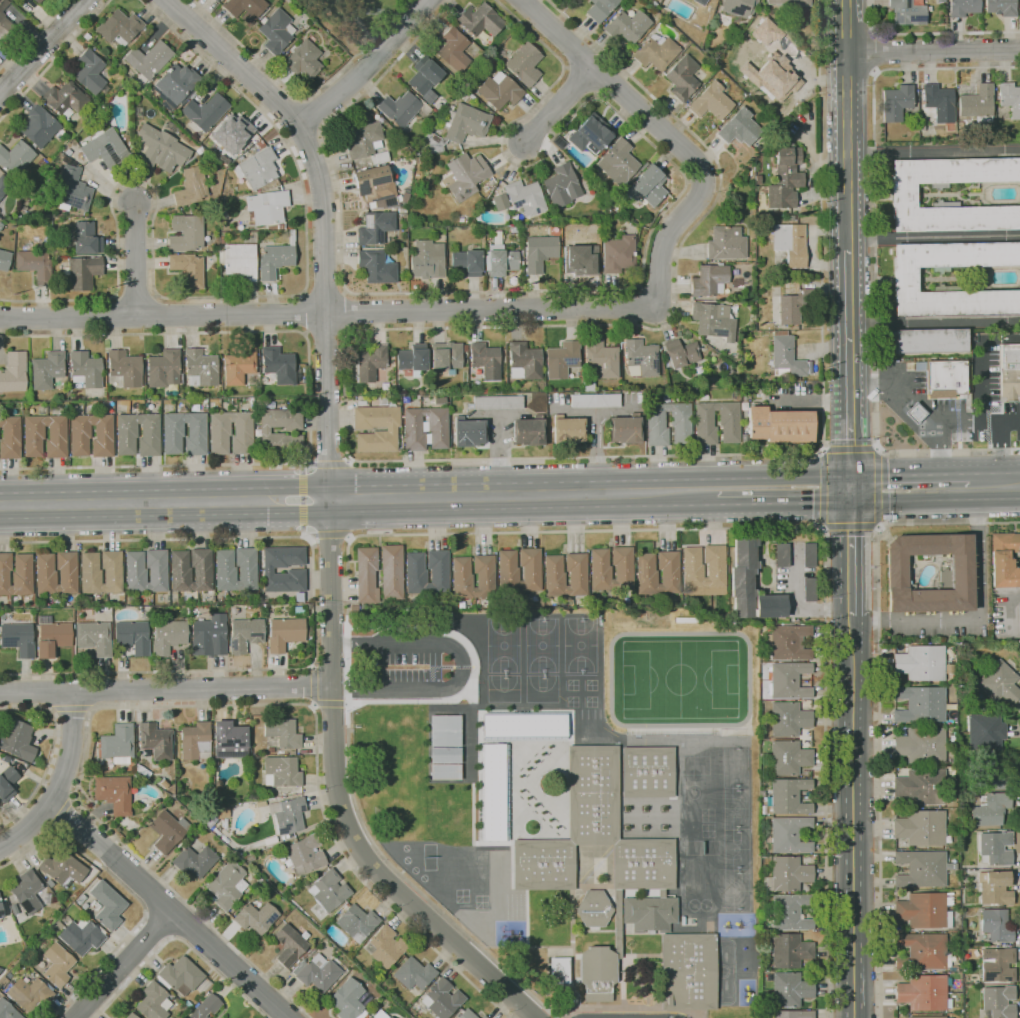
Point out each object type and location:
building: (214, 0)
building: (215, 0)
building: (588, 0)
building: (37, 1)
building: (700, 2)
building: (790, 2)
building: (653, 4)
building: (738, 7)
building: (963, 7)
building: (1000, 7)
building: (244, 9)
building: (600, 9)
building: (906, 12)
park: (352, 20)
building: (479, 20)
building: (6, 25)
building: (627, 26)
building: (119, 29)
building: (276, 31)
building: (765, 31)
road: (31, 34)
road: (931, 34)
building: (86, 36)
road: (42, 46)
building: (453, 49)
building: (656, 52)
road: (878, 53)
road: (933, 53)
building: (148, 59)
building: (302, 59)
road: (55, 60)
building: (524, 64)
road: (367, 67)
building: (89, 72)
building: (481, 74)
building: (424, 76)
building: (682, 77)
building: (773, 77)
building: (468, 85)
building: (175, 86)
road: (617, 87)
building: (499, 91)
building: (465, 94)
road: (302, 97)
building: (65, 98)
building: (1009, 98)
building: (711, 102)
building: (896, 103)
building: (938, 103)
building: (977, 104)
road: (559, 105)
building: (94, 106)
building: (451, 107)
building: (399, 109)
road: (316, 111)
building: (204, 112)
road: (288, 112)
road: (847, 124)
building: (40, 127)
building: (433, 127)
building: (457, 128)
building: (739, 128)
building: (232, 133)
building: (590, 135)
road: (304, 137)
building: (366, 143)
building: (259, 145)
building: (105, 148)
building: (161, 148)
road: (934, 151)
building: (67, 152)
building: (15, 158)
building: (65, 159)
building: (618, 162)
building: (257, 168)
building: (465, 176)
building: (786, 177)
building: (757, 180)
building: (374, 183)
building: (4, 186)
building: (562, 186)
building: (647, 186)
building: (191, 187)
building: (71, 190)
building: (731, 195)
building: (903, 195)
building: (524, 197)
building: (500, 202)
building: (266, 208)
road: (322, 213)
building: (280, 227)
building: (375, 228)
building: (514, 229)
building: (594, 229)
building: (185, 233)
building: (291, 237)
road: (934, 237)
building: (86, 239)
building: (221, 239)
building: (726, 243)
building: (790, 243)
building: (398, 245)
building: (539, 252)
building: (618, 254)
building: (500, 258)
road: (135, 259)
building: (4, 260)
building: (427, 260)
building: (240, 261)
building: (274, 261)
road: (876, 261)
building: (468, 262)
building: (34, 265)
building: (376, 267)
building: (188, 270)
building: (83, 272)
building: (223, 279)
building: (904, 279)
building: (709, 281)
road: (609, 290)
road: (325, 291)
road: (219, 297)
building: (793, 307)
road: (395, 311)
road: (305, 313)
road: (934, 318)
building: (713, 321)
road: (326, 335)
road: (1000, 339)
building: (930, 340)
building: (680, 353)
building: (446, 356)
building: (785, 356)
building: (464, 357)
building: (412, 358)
building: (601, 358)
building: (640, 359)
building: (485, 360)
building: (561, 360)
building: (524, 361)
building: (370, 363)
road: (850, 363)
building: (239, 365)
building: (279, 365)
building: (124, 368)
building: (200, 368)
building: (84, 369)
building: (163, 369)
building: (46, 370)
building: (13, 372)
building: (449, 372)
building: (1010, 372)
building: (945, 379)
building: (588, 384)
building: (396, 392)
building: (704, 397)
road: (310, 398)
road: (812, 400)
building: (594, 401)
road: (981, 401)
building: (496, 403)
road: (920, 404)
gas station: (921, 406)
building: (915, 413)
building: (537, 415)
building: (729, 418)
building: (680, 419)
road: (990, 423)
building: (437, 424)
building: (779, 425)
building: (219, 429)
building: (390, 429)
building: (625, 429)
building: (173, 430)
building: (80, 431)
building: (126, 431)
building: (529, 431)
building: (567, 431)
building: (33, 432)
building: (264, 432)
building: (468, 432)
building: (9, 438)
road: (1000, 438)
traffic signals: (851, 444)
road: (876, 460)
road: (379, 461)
road: (328, 464)
road: (1010, 472)
road: (926, 475)
traffic signals: (885, 476)
road: (590, 482)
road: (239, 489)
road: (852, 489)
road: (75, 493)
road: (935, 499)
road: (329, 500)
road: (301, 501)
road: (783, 503)
traffic signals: (812, 503)
road: (521, 508)
road: (239, 514)
road: (822, 515)
road: (74, 519)
road: (550, 531)
traffic signals: (852, 532)
road: (330, 533)
building: (782, 555)
building: (808, 555)
building: (1004, 560)
building: (267, 569)
building: (692, 569)
building: (391, 572)
building: (600, 572)
building: (15, 574)
building: (225, 574)
building: (508, 574)
building: (135, 575)
building: (180, 575)
building: (366, 575)
building: (415, 576)
building: (90, 577)
building: (646, 577)
building: (45, 578)
building: (554, 579)
building: (957, 579)
building: (462, 581)
building: (750, 585)
building: (809, 589)
road: (1009, 594)
road: (313, 603)
building: (1018, 616)
road: (977, 620)
building: (244, 633)
building: (284, 633)
building: (167, 635)
building: (209, 636)
building: (51, 637)
building: (94, 637)
building: (132, 637)
building: (18, 639)
building: (786, 642)
building: (920, 663)
road: (462, 666)
park: (680, 679)
building: (789, 680)
building: (998, 684)
road: (313, 686)
road: (206, 688)
road: (97, 690)
road: (39, 692)
road: (55, 692)
road: (879, 700)
road: (330, 703)
building: (919, 704)
road: (188, 705)
building: (788, 719)
building: (523, 726)
road: (1019, 726)
building: (444, 730)
building: (985, 731)
building: (282, 733)
building: (228, 736)
building: (154, 740)
building: (17, 741)
building: (194, 741)
building: (118, 744)
building: (920, 746)
building: (270, 749)
road: (51, 752)
building: (291, 752)
building: (444, 754)
building: (788, 757)
building: (5, 759)
road: (855, 759)
park: (735, 767)
building: (986, 770)
building: (444, 771)
building: (648, 772)
building: (281, 773)
road: (61, 780)
building: (7, 784)
building: (922, 787)
building: (491, 792)
building: (113, 793)
building: (789, 796)
road: (341, 803)
park: (736, 808)
building: (989, 809)
road: (63, 814)
building: (287, 815)
road: (31, 823)
building: (920, 828)
building: (166, 830)
building: (790, 834)
building: (994, 848)
park: (736, 849)
building: (304, 854)
building: (193, 860)
building: (643, 867)
building: (60, 868)
building: (922, 869)
road: (132, 871)
building: (962, 873)
building: (787, 874)
building: (226, 884)
building: (995, 887)
building: (328, 890)
park: (737, 890)
building: (26, 891)
road: (132, 892)
building: (107, 906)
building: (593, 909)
building: (924, 910)
building: (1, 911)
building: (790, 912)
building: (254, 917)
building: (356, 922)
building: (996, 925)
building: (81, 936)
road: (180, 939)
building: (288, 944)
building: (384, 946)
building: (924, 950)
building: (789, 951)
building: (55, 964)
road: (123, 964)
building: (997, 965)
building: (0, 968)
building: (315, 971)
building: (559, 971)
building: (688, 971)
building: (412, 973)
building: (179, 974)
building: (789, 989)
building: (29, 992)
building: (923, 992)
building: (441, 998)
building: (348, 999)
building: (153, 1000)
building: (998, 1001)
building: (204, 1007)
building: (7, 1010)
building: (379, 1014)
building: (465, 1014)
building: (793, 1014)
building: (129, 1015)
building: (482, 1016)
building: (928, 1017)

